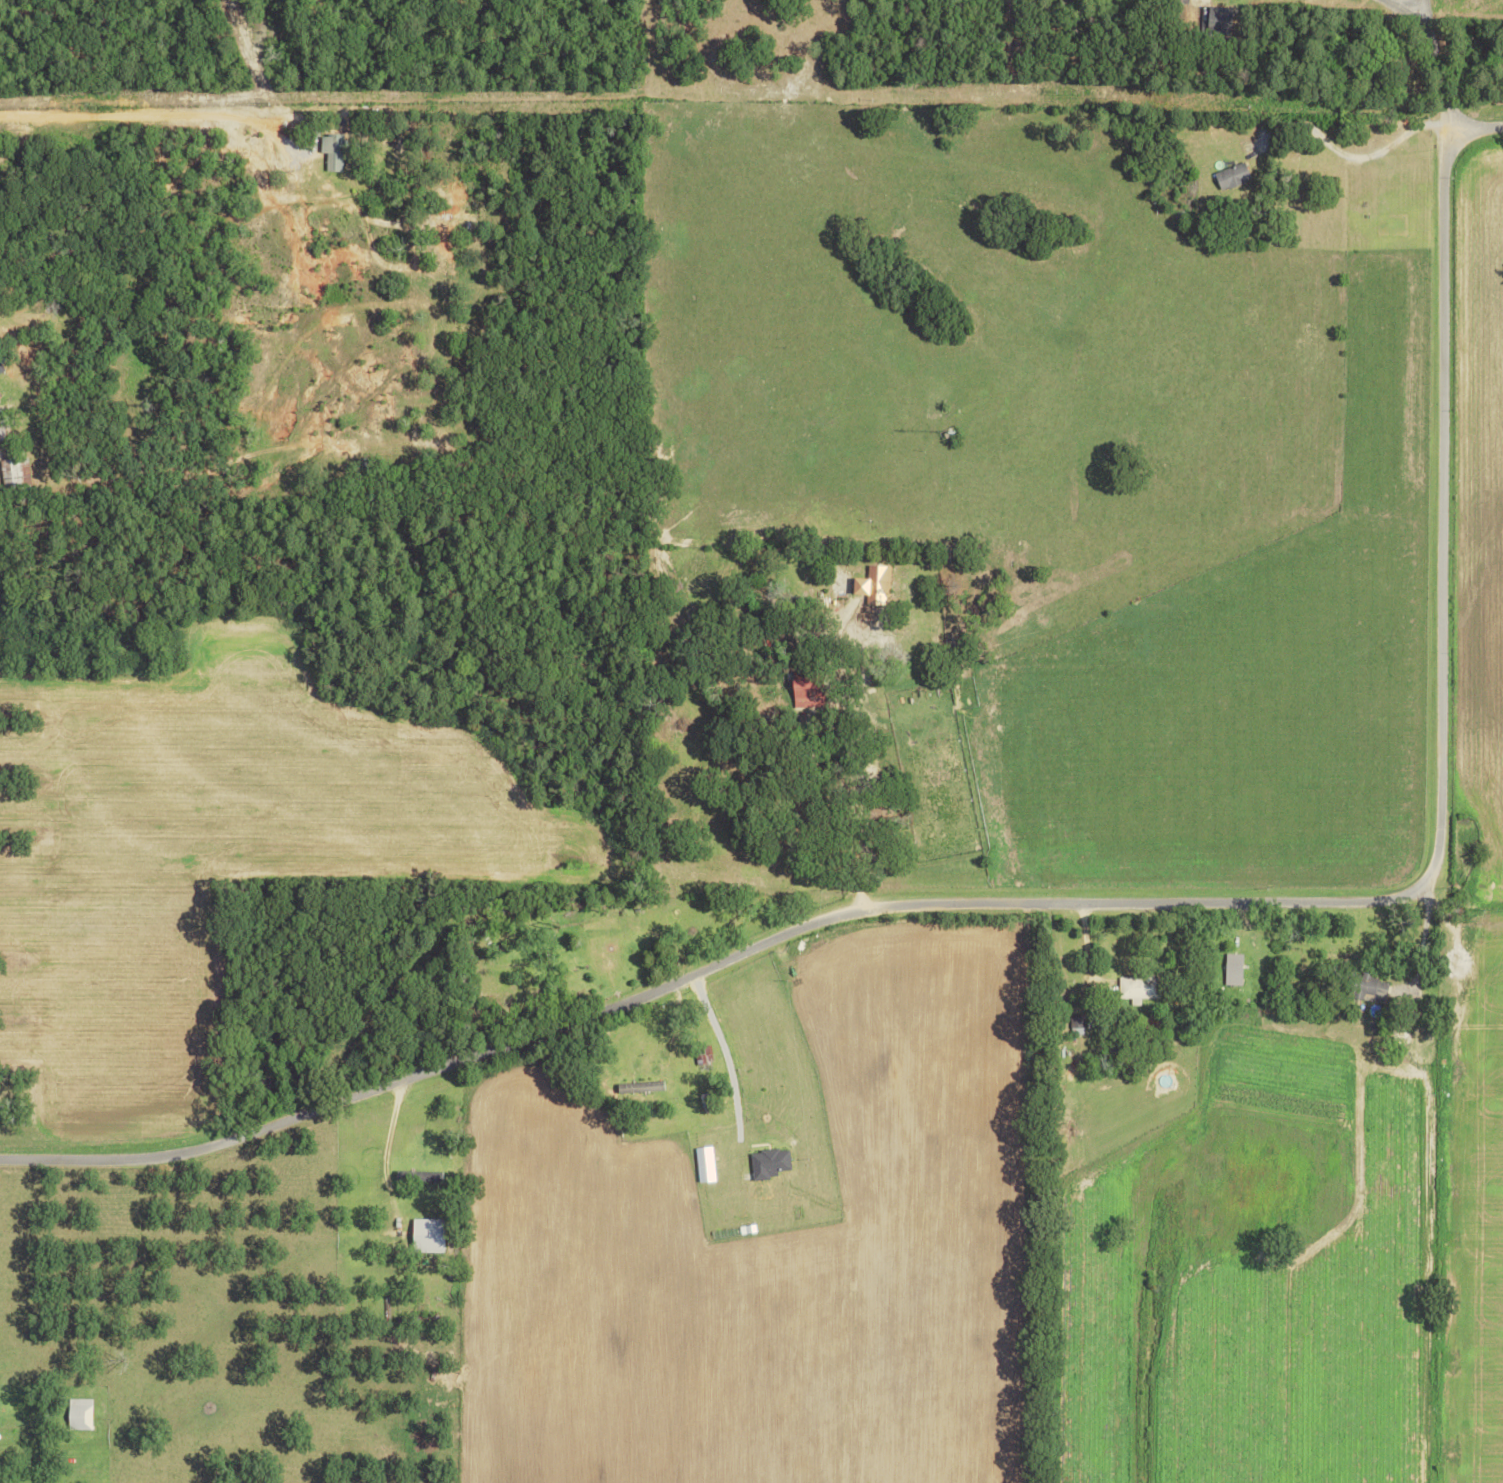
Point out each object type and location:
road: (1402, 5)
road: (1430, 67)
road: (107, 114)
road: (259, 124)
road: (1476, 133)
building: (332, 150)
road: (1358, 157)
building: (1234, 175)
building: (1, 368)
building: (1, 433)
building: (13, 471)
building: (875, 579)
building: (809, 692)
road: (1070, 909)
building: (1234, 969)
building: (1139, 988)
building: (1374, 988)
building: (1078, 1022)
road: (674, 1038)
building: (640, 1087)
building: (769, 1163)
building: (418, 1176)
building: (427, 1235)
building: (79, 1414)

